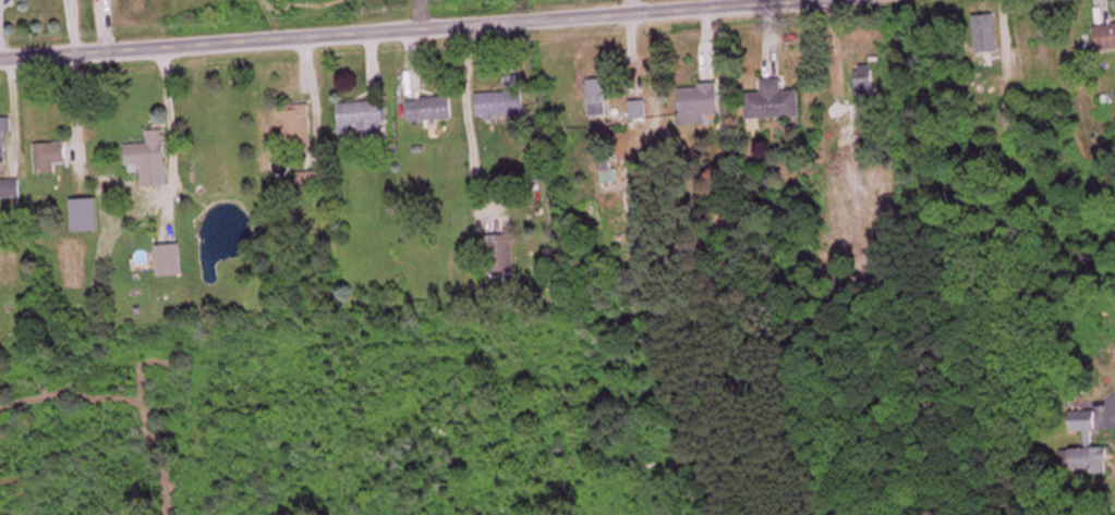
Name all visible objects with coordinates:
road: (397, 27)
building: (1106, 38)
building: (866, 82)
building: (506, 101)
building: (598, 101)
building: (777, 102)
building: (702, 105)
building: (433, 110)
building: (640, 111)
building: (366, 121)
building: (302, 126)
building: (5, 131)
building: (150, 151)
building: (51, 158)
building: (609, 169)
building: (314, 181)
building: (11, 189)
building: (87, 217)
building: (59, 221)
building: (502, 256)
building: (171, 261)
building: (1089, 449)

